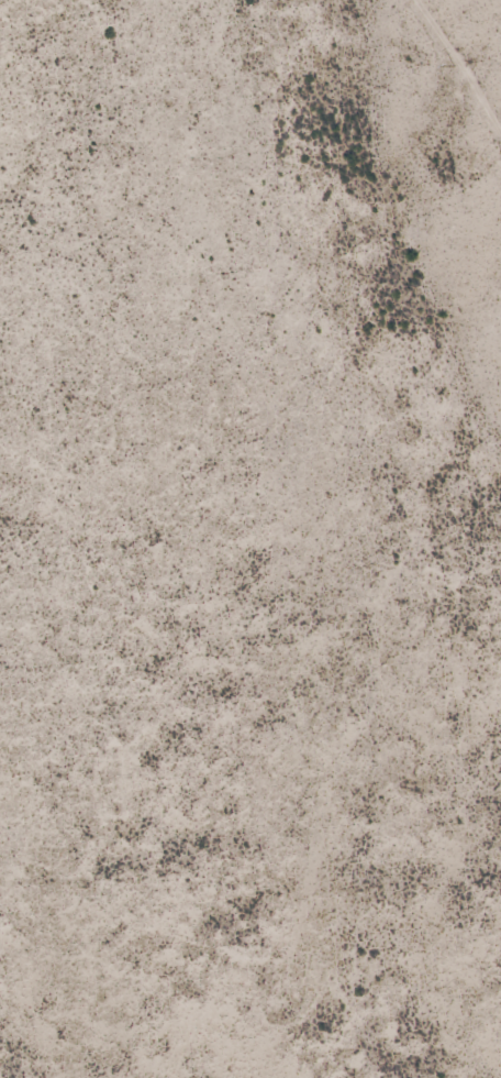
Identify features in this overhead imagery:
road: (2, 8)

